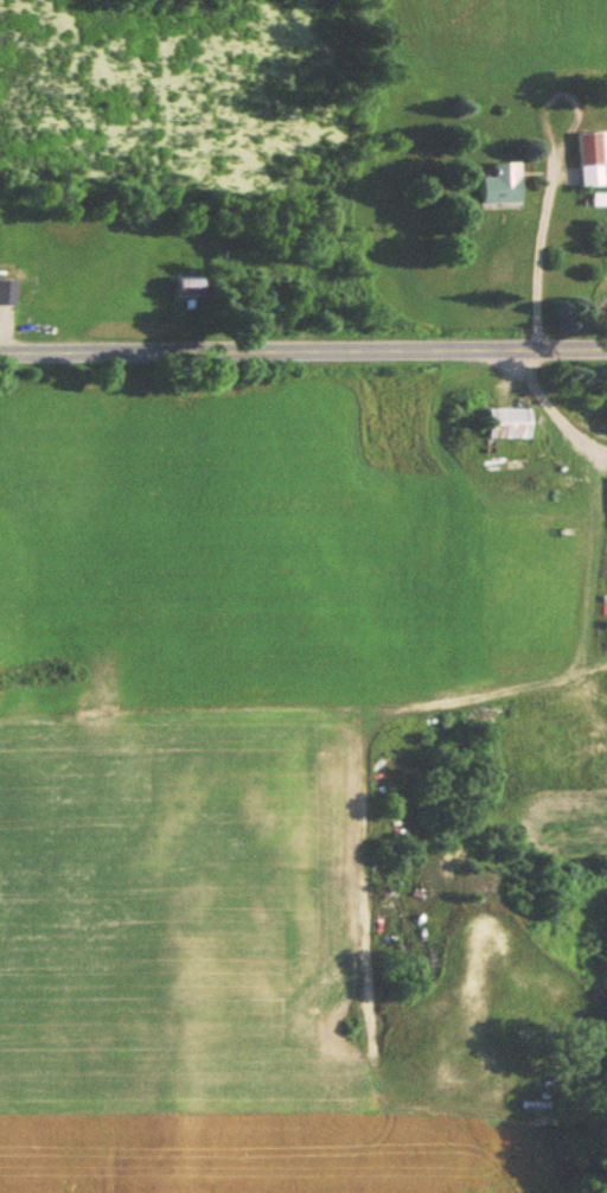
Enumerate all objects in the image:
building: (589, 158)
building: (497, 186)
road: (533, 254)
building: (180, 288)
building: (4, 294)
road: (303, 350)
road: (549, 407)
building: (501, 425)
road: (365, 733)

